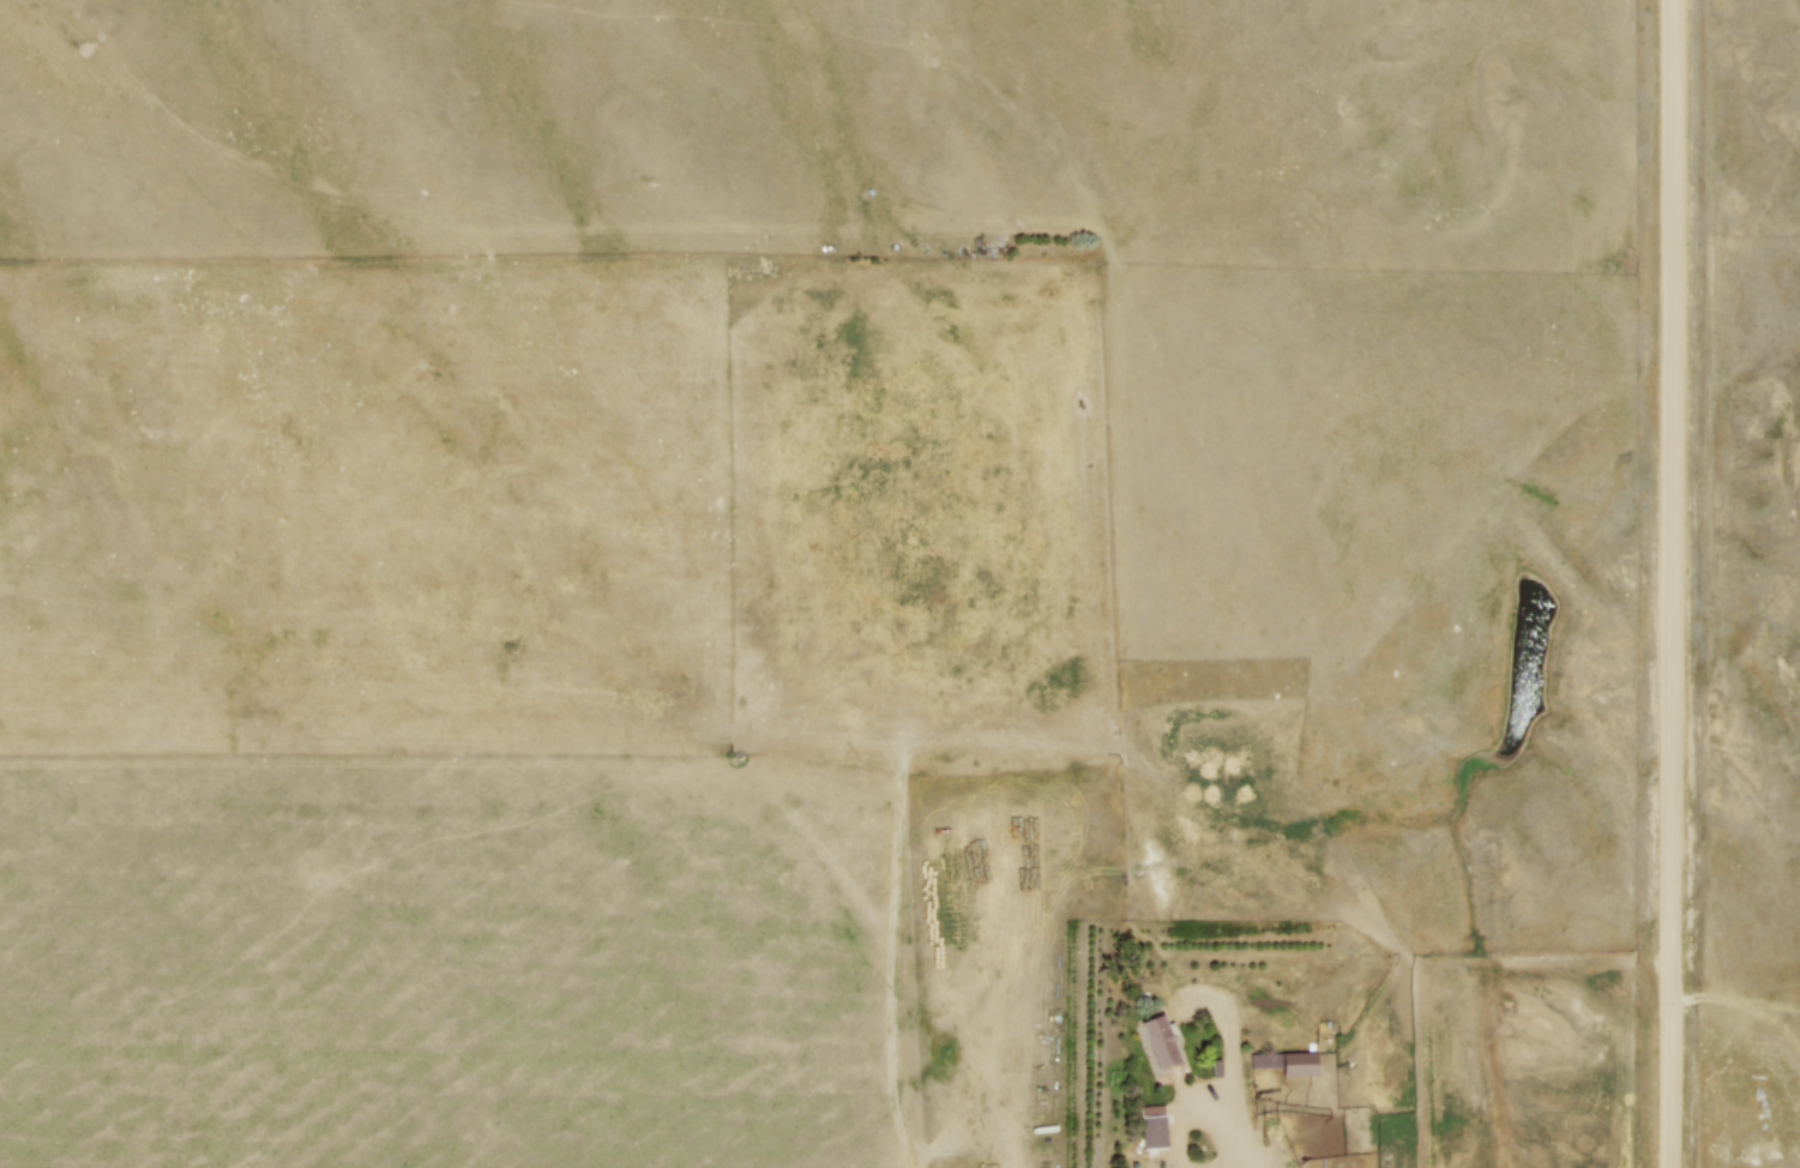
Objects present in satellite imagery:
crop: (554, 505)
road: (1673, 584)
building: (1161, 1040)
building: (1288, 1064)
building: (1156, 1127)
road: (1239, 1134)

